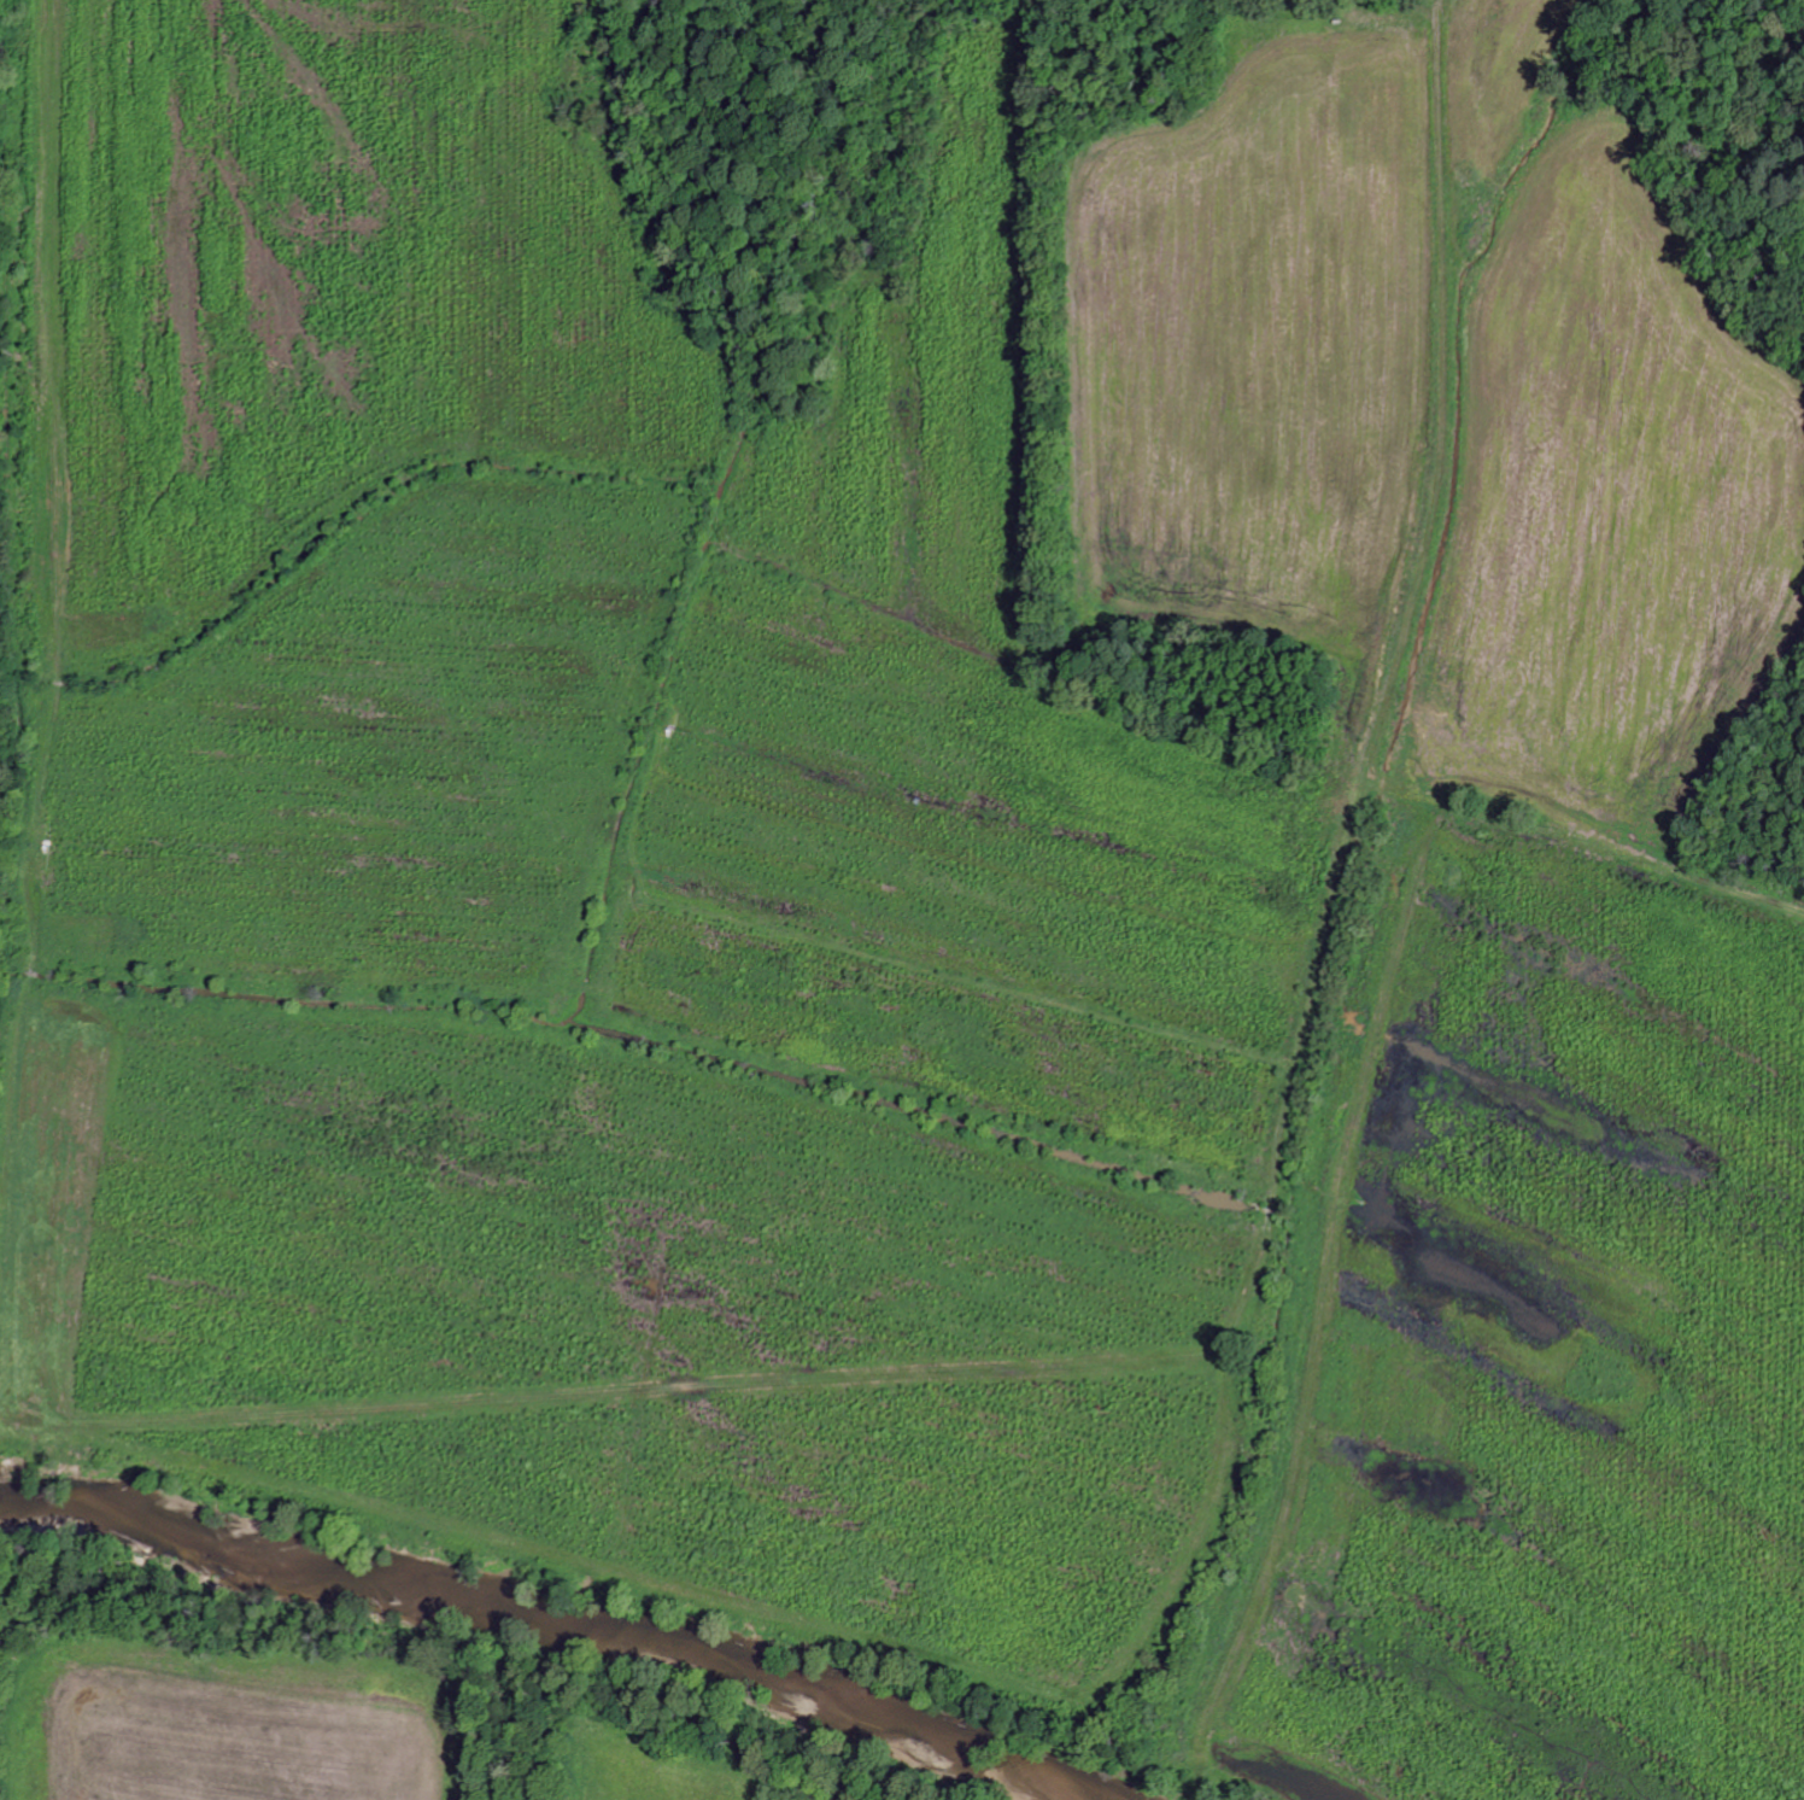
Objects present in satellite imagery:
river: (553, 1613)

